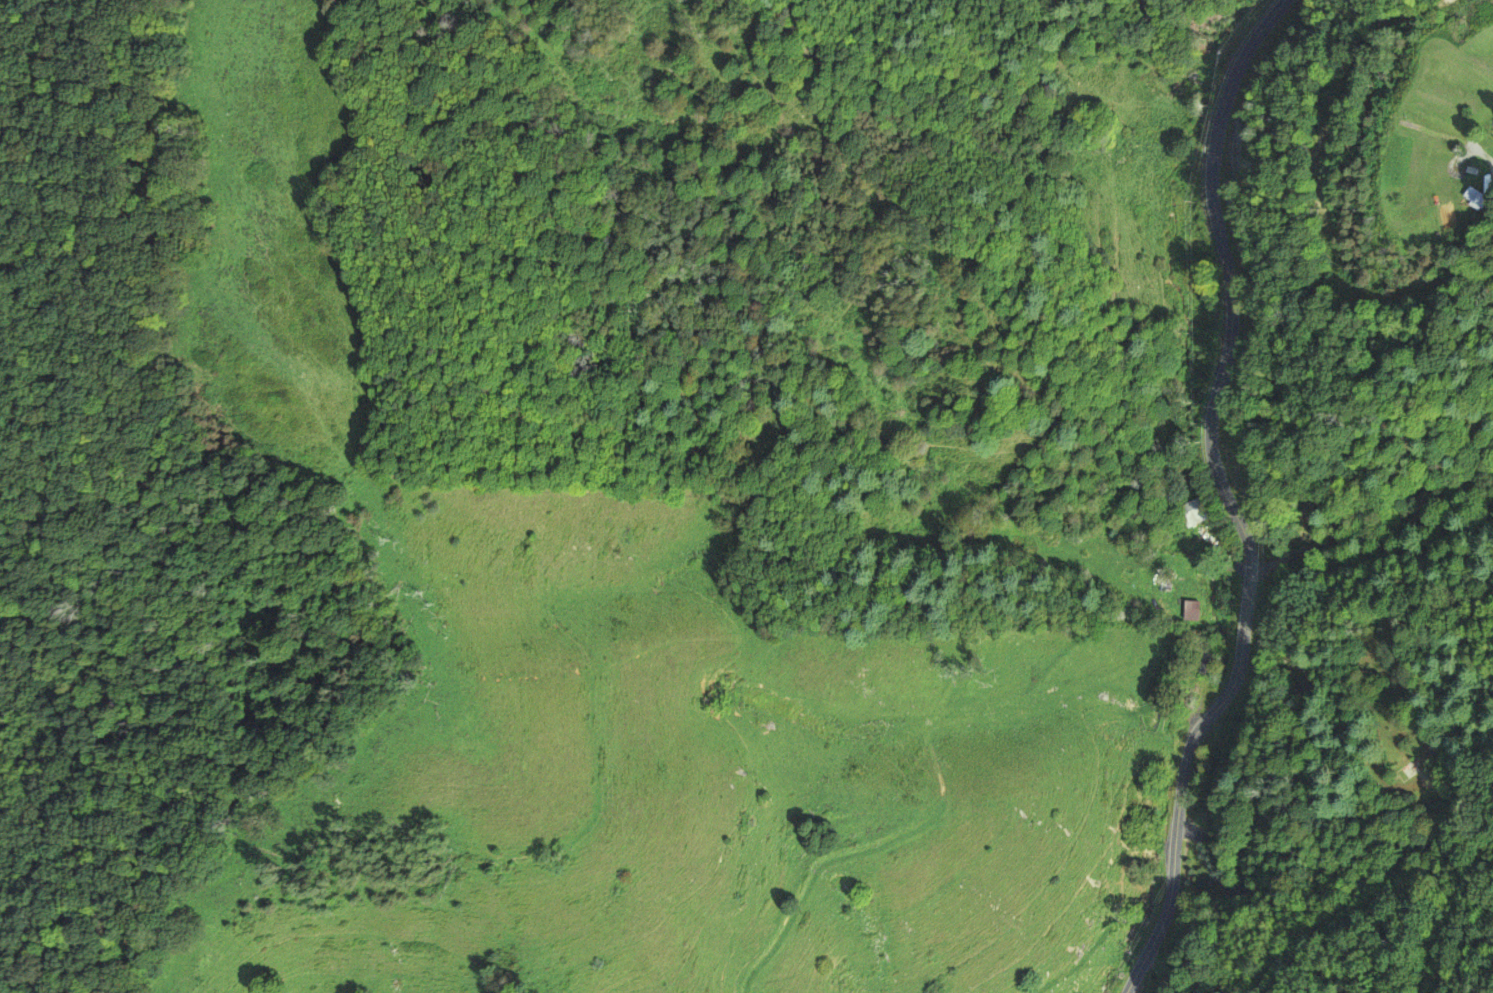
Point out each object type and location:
building: (1474, 197)
road: (1216, 497)
building: (1191, 513)
building: (1189, 610)
building: (1196, 661)

